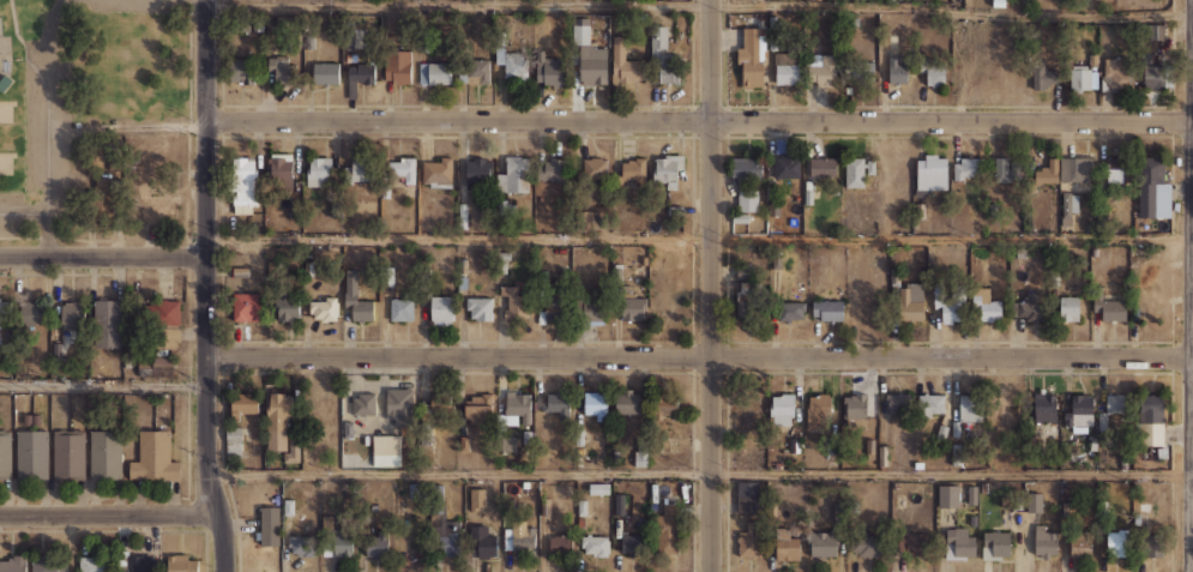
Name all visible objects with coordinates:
building: (999, 2)
road: (699, 4)
parking lot: (138, 5)
building: (602, 19)
building: (855, 20)
building: (258, 24)
building: (601, 29)
building: (772, 32)
building: (580, 34)
building: (893, 41)
building: (499, 54)
building: (663, 55)
building: (752, 58)
building: (1146, 58)
building: (815, 59)
building: (1093, 59)
building: (514, 62)
building: (622, 62)
building: (398, 66)
building: (592, 66)
building: (785, 67)
building: (862, 70)
building: (1117, 70)
building: (241, 71)
building: (284, 71)
building: (471, 71)
building: (897, 71)
building: (552, 72)
building: (835, 72)
building: (934, 72)
building: (324, 73)
building: (434, 73)
building: (1157, 76)
building: (1043, 77)
building: (1080, 79)
building: (361, 80)
building: (5, 82)
building: (1105, 83)
road: (699, 121)
park: (96, 122)
road: (46, 126)
parking lot: (42, 139)
building: (821, 164)
building: (595, 168)
building: (554, 169)
building: (632, 169)
building: (1000, 169)
building: (1119, 169)
building: (785, 170)
building: (857, 170)
building: (475, 171)
building: (1046, 171)
building: (281, 173)
building: (669, 173)
building: (932, 173)
building: (970, 173)
building: (1077, 173)
building: (320, 174)
building: (438, 174)
building: (517, 174)
building: (378, 175)
building: (246, 186)
building: (747, 187)
building: (1104, 187)
building: (1153, 188)
building: (808, 197)
building: (1071, 210)
road: (47, 234)
road: (699, 237)
road: (1192, 243)
building: (1022, 253)
road: (102, 257)
building: (643, 260)
building: (776, 260)
building: (462, 265)
building: (272, 266)
building: (745, 271)
building: (240, 272)
building: (616, 273)
building: (388, 276)
building: (893, 276)
building: (1055, 277)
building: (541, 279)
building: (463, 282)
road: (711, 285)
road: (206, 288)
building: (350, 288)
building: (627, 290)
building: (938, 296)
building: (1097, 296)
building: (749, 299)
building: (289, 302)
building: (516, 302)
building: (911, 302)
building: (247, 305)
building: (986, 305)
building: (480, 306)
building: (559, 306)
building: (363, 307)
building: (1031, 307)
building: (400, 308)
building: (441, 308)
building: (634, 308)
building: (1012, 308)
building: (325, 309)
building: (788, 309)
building: (827, 309)
building: (1070, 309)
building: (1113, 309)
building: (592, 311)
building: (32, 312)
building: (952, 312)
building: (7, 313)
building: (72, 314)
building: (107, 324)
building: (156, 325)
road: (699, 359)
building: (153, 366)
road: (103, 386)
building: (556, 402)
building: (897, 402)
building: (245, 403)
building: (438, 403)
building: (626, 404)
building: (929, 404)
building: (594, 405)
building: (518, 408)
building: (481, 409)
building: (1113, 409)
building: (856, 410)
building: (1008, 411)
building: (1046, 411)
building: (1081, 411)
building: (782, 413)
building: (970, 413)
building: (670, 414)
building: (819, 414)
building: (26, 419)
building: (36, 419)
building: (378, 419)
building: (1067, 419)
building: (277, 420)
building: (1150, 422)
building: (941, 432)
building: (1030, 436)
building: (809, 438)
building: (233, 441)
building: (464, 442)
building: (505, 442)
building: (1092, 442)
building: (794, 445)
building: (294, 446)
building: (869, 448)
building: (784, 450)
building: (1162, 452)
building: (31, 454)
building: (68, 454)
building: (106, 454)
building: (640, 454)
building: (882, 454)
building: (5, 456)
building: (153, 457)
building: (777, 464)
building: (918, 464)
road: (699, 474)
building: (984, 487)
building: (598, 488)
building: (424, 492)
building: (653, 492)
building: (972, 494)
building: (950, 495)
building: (751, 496)
building: (480, 501)
building: (1035, 502)
building: (619, 504)
building: (911, 505)
building: (289, 506)
building: (546, 506)
building: (582, 506)
building: (1103, 507)
building: (1071, 510)
road: (109, 512)
building: (972, 519)
building: (579, 522)
building: (270, 525)
building: (667, 529)
building: (451, 538)
building: (1047, 540)
building: (483, 541)
building: (519, 541)
building: (1080, 541)
building: (378, 542)
building: (912, 542)
building: (632, 543)
building: (789, 543)
building: (824, 543)
building: (1002, 543)
building: (301, 544)
building: (338, 544)
building: (595, 544)
building: (754, 544)
building: (962, 544)
building: (1138, 544)
building: (562, 546)
building: (862, 548)
building: (97, 562)
building: (139, 562)
building: (182, 562)
building: (13, 564)
building: (47, 564)

